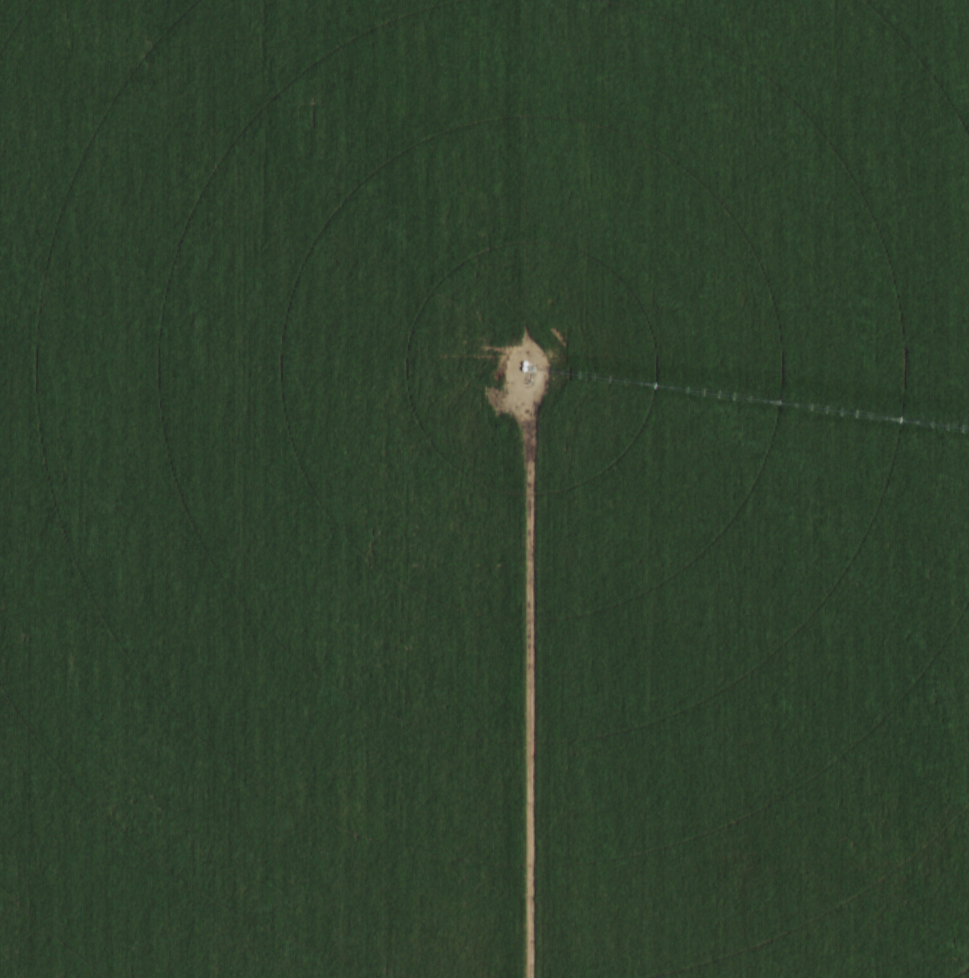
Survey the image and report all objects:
crop: (484, 489)

